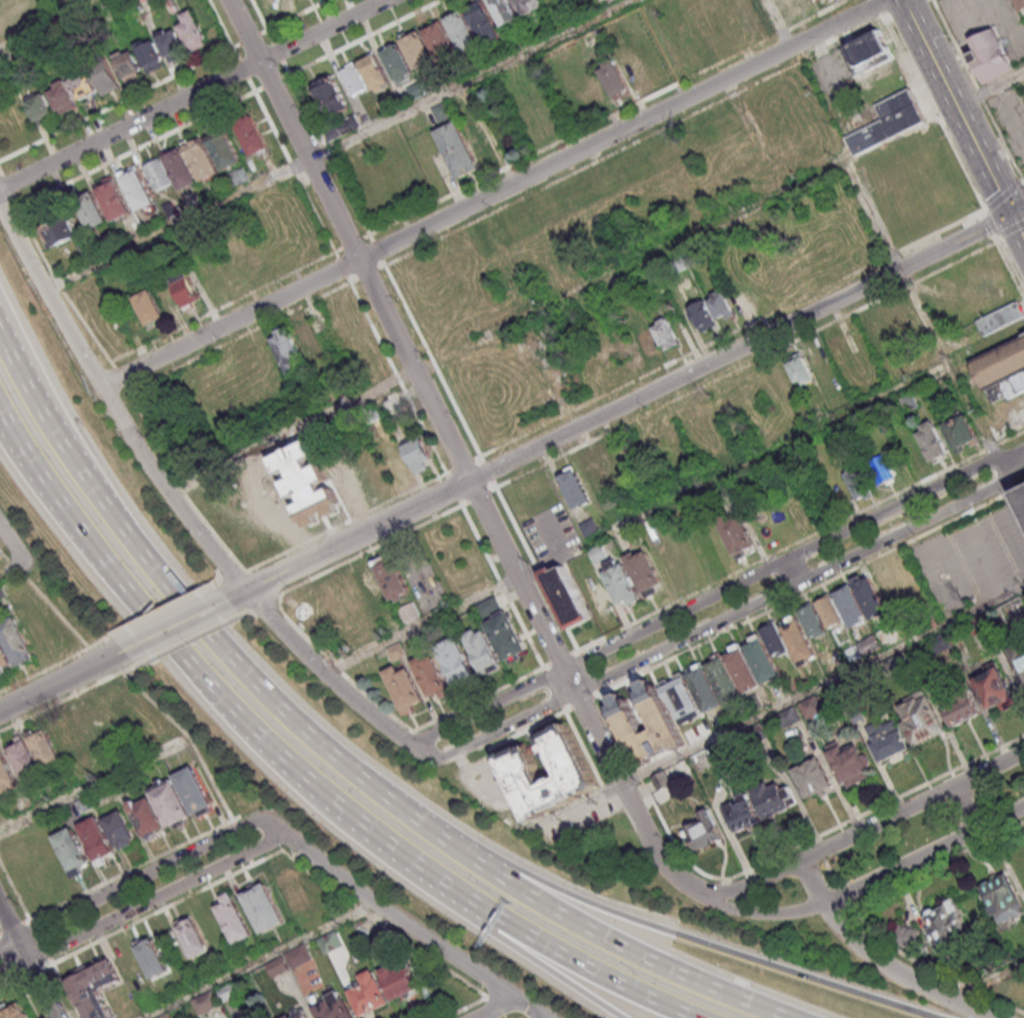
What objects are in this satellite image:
parking lot: (824, 2)
building: (267, 4)
building: (1020, 4)
building: (528, 5)
road: (877, 8)
building: (505, 10)
building: (482, 20)
road: (777, 23)
parking lot: (986, 23)
road: (51, 24)
building: (462, 29)
building: (193, 30)
building: (439, 38)
building: (170, 42)
building: (417, 48)
building: (866, 52)
building: (150, 54)
building: (992, 55)
building: (396, 61)
building: (128, 64)
building: (631, 65)
building: (374, 71)
building: (104, 77)
building: (353, 78)
building: (613, 78)
building: (83, 85)
road: (979, 90)
road: (989, 90)
road: (193, 94)
building: (62, 96)
building: (332, 96)
building: (895, 103)
building: (38, 106)
road: (954, 106)
building: (442, 111)
road: (934, 113)
parking lot: (1010, 119)
building: (341, 127)
road: (622, 128)
building: (883, 128)
road: (292, 129)
building: (251, 135)
road: (339, 145)
building: (223, 148)
building: (457, 148)
building: (200, 158)
building: (179, 168)
building: (156, 172)
building: (238, 176)
building: (137, 187)
road: (1004, 195)
building: (111, 198)
building: (91, 209)
traffic signals: (1008, 212)
road: (873, 217)
road: (991, 224)
road: (1016, 227)
building: (56, 228)
road: (1010, 230)
building: (247, 258)
road: (1010, 264)
building: (796, 269)
building: (184, 288)
building: (721, 304)
building: (148, 308)
building: (703, 313)
building: (1000, 320)
road: (229, 322)
building: (904, 323)
road: (507, 327)
building: (665, 333)
road: (241, 337)
building: (307, 339)
building: (647, 340)
road: (746, 343)
building: (287, 349)
road: (19, 351)
building: (1000, 361)
road: (948, 363)
road: (747, 365)
road: (412, 369)
road: (16, 370)
building: (802, 370)
road: (398, 378)
building: (1006, 385)
building: (763, 387)
building: (742, 399)
building: (392, 401)
building: (910, 403)
road: (112, 404)
parking lot: (1005, 415)
building: (966, 429)
road: (7, 431)
road: (8, 435)
building: (954, 436)
building: (931, 440)
building: (417, 453)
road: (72, 464)
road: (463, 464)
building: (881, 470)
road: (487, 472)
building: (378, 475)
building: (306, 481)
building: (857, 482)
building: (342, 484)
road: (179, 488)
building: (575, 488)
road: (454, 489)
building: (1022, 493)
road: (479, 496)
road: (1010, 507)
building: (261, 519)
road: (638, 520)
road: (348, 523)
building: (242, 532)
parking lot: (550, 532)
building: (737, 536)
road: (342, 542)
road: (10, 550)
road: (372, 550)
building: (598, 551)
parking lot: (972, 556)
building: (665, 559)
road: (10, 569)
road: (794, 569)
building: (643, 571)
building: (391, 576)
road: (233, 578)
building: (621, 581)
building: (369, 584)
building: (11, 586)
road: (520, 586)
road: (502, 587)
road: (126, 589)
road: (811, 589)
road: (715, 593)
building: (596, 594)
building: (2, 595)
building: (349, 595)
building: (565, 596)
building: (869, 596)
road: (265, 603)
building: (330, 606)
building: (851, 606)
building: (1011, 609)
building: (410, 610)
building: (829, 610)
road: (161, 613)
building: (947, 616)
building: (811, 620)
road: (717, 621)
building: (979, 625)
road: (171, 628)
building: (502, 629)
building: (38, 633)
road: (78, 637)
building: (890, 637)
building: (774, 638)
building: (798, 639)
building: (16, 641)
road: (187, 641)
building: (944, 644)
road: (97, 645)
building: (870, 646)
building: (483, 650)
building: (854, 655)
building: (4, 658)
building: (456, 658)
building: (761, 659)
building: (1018, 661)
building: (902, 664)
road: (339, 668)
building: (743, 668)
road: (324, 670)
building: (432, 674)
building: (723, 678)
road: (61, 680)
road: (823, 685)
building: (704, 687)
building: (404, 688)
building: (997, 690)
building: (680, 698)
road: (479, 700)
road: (63, 701)
building: (761, 701)
building: (125, 704)
building: (963, 707)
building: (812, 708)
building: (624, 716)
building: (858, 717)
building: (790, 718)
building: (923, 720)
building: (755, 735)
road: (191, 737)
building: (889, 741)
building: (47, 753)
building: (721, 754)
building: (26, 761)
building: (850, 764)
building: (6, 775)
building: (576, 775)
building: (814, 780)
building: (662, 782)
road: (93, 787)
building: (195, 793)
road: (319, 794)
road: (628, 796)
building: (772, 801)
building: (0, 802)
road: (912, 804)
building: (86, 806)
building: (172, 806)
road: (966, 806)
parking lot: (578, 813)
road: (408, 814)
building: (743, 815)
building: (149, 821)
building: (121, 832)
building: (703, 834)
building: (98, 841)
road: (244, 843)
road: (820, 849)
building: (72, 852)
road: (770, 860)
road: (938, 865)
road: (132, 870)
road: (832, 874)
road: (136, 878)
road: (813, 881)
road: (749, 883)
road: (864, 886)
road: (210, 887)
building: (291, 888)
road: (845, 898)
building: (1004, 900)
road: (141, 906)
building: (265, 910)
building: (316, 916)
building: (235, 921)
road: (408, 924)
road: (14, 927)
building: (946, 928)
road: (685, 936)
building: (907, 938)
building: (194, 940)
road: (505, 941)
road: (42, 942)
building: (331, 942)
road: (540, 945)
road: (29, 959)
building: (152, 959)
building: (289, 960)
road: (263, 961)
road: (9, 963)
road: (440, 965)
road: (931, 970)
road: (36, 972)
road: (900, 972)
building: (400, 980)
road: (989, 982)
road: (24, 989)
building: (95, 989)
road: (67, 991)
building: (369, 993)
building: (205, 1002)
building: (332, 1006)
road: (495, 1008)
building: (17, 1013)
building: (299, 1015)
building: (167, 1016)

